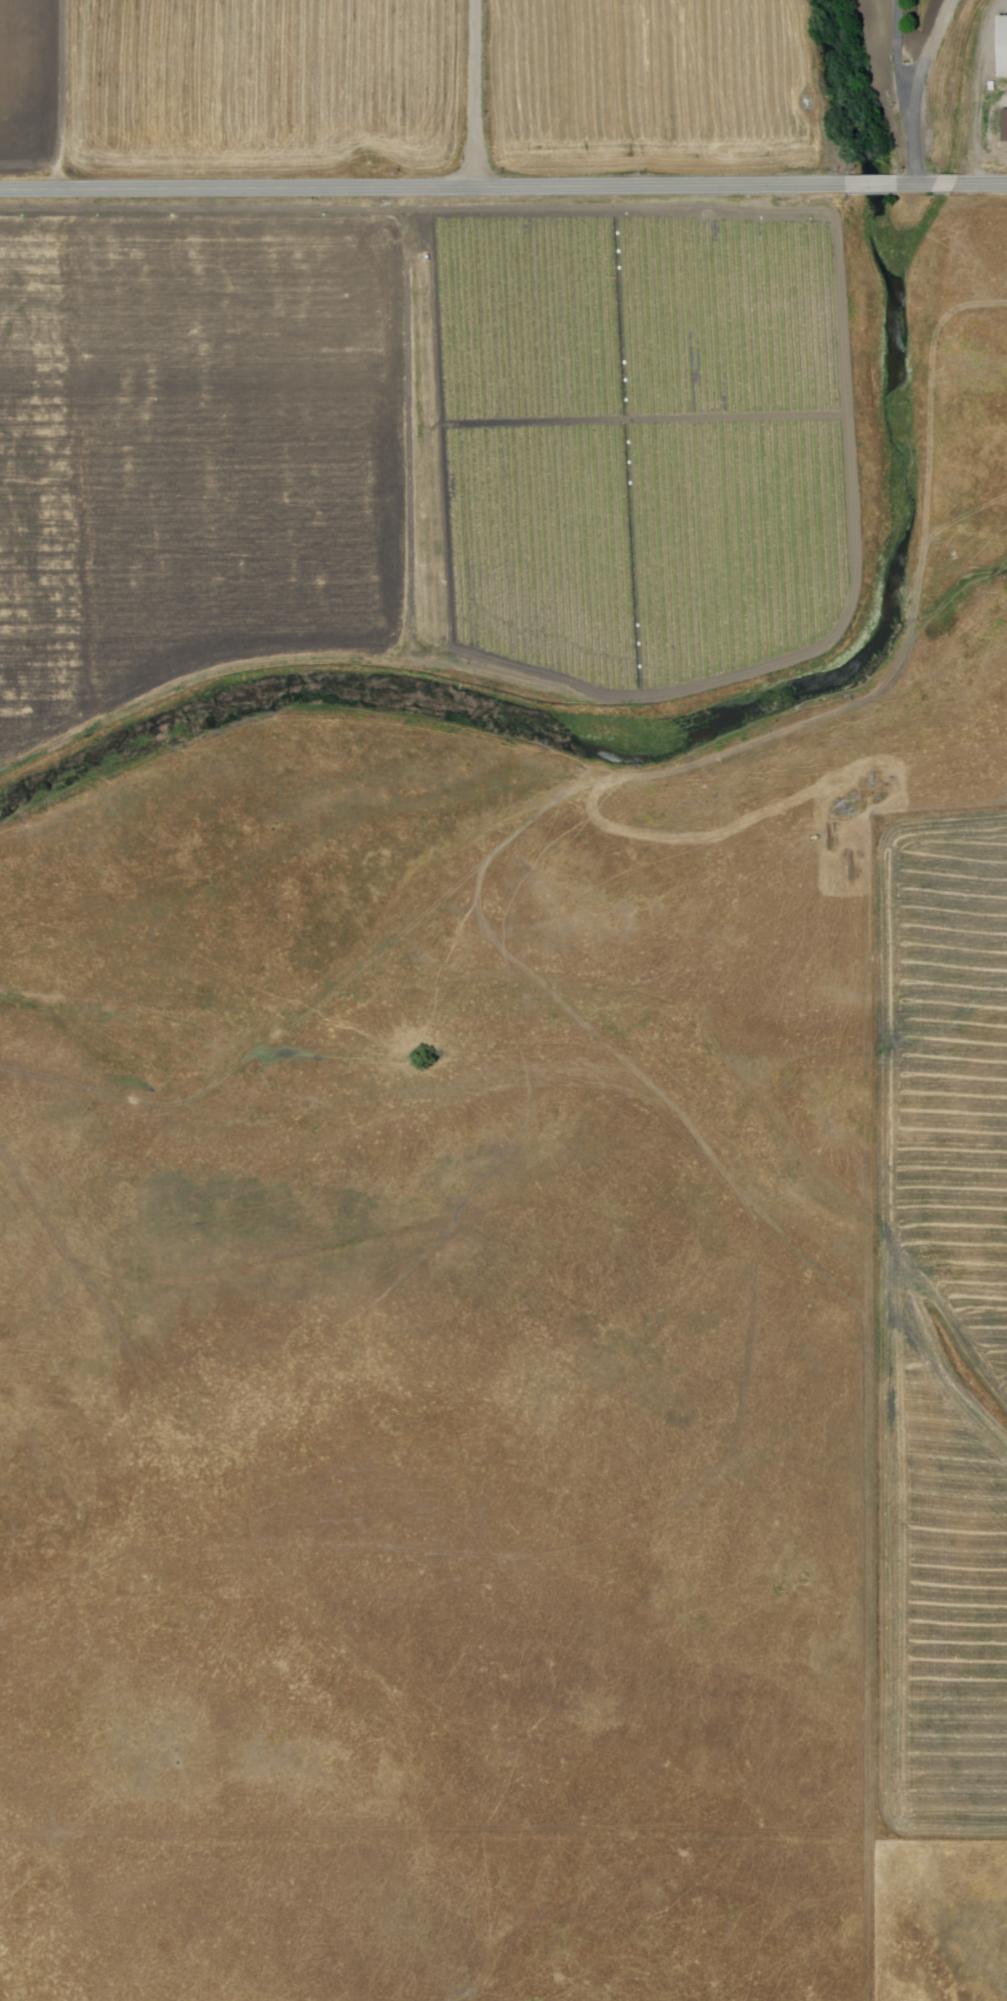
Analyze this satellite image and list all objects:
crop: (917, 19)
building: (1003, 47)
road: (924, 62)
crop: (262, 81)
crop: (30, 83)
crop: (648, 86)
road: (904, 92)
road: (475, 94)
building: (1005, 127)
road: (882, 185)
road: (953, 185)
road: (432, 188)
crop: (415, 442)
crop: (941, 1327)

